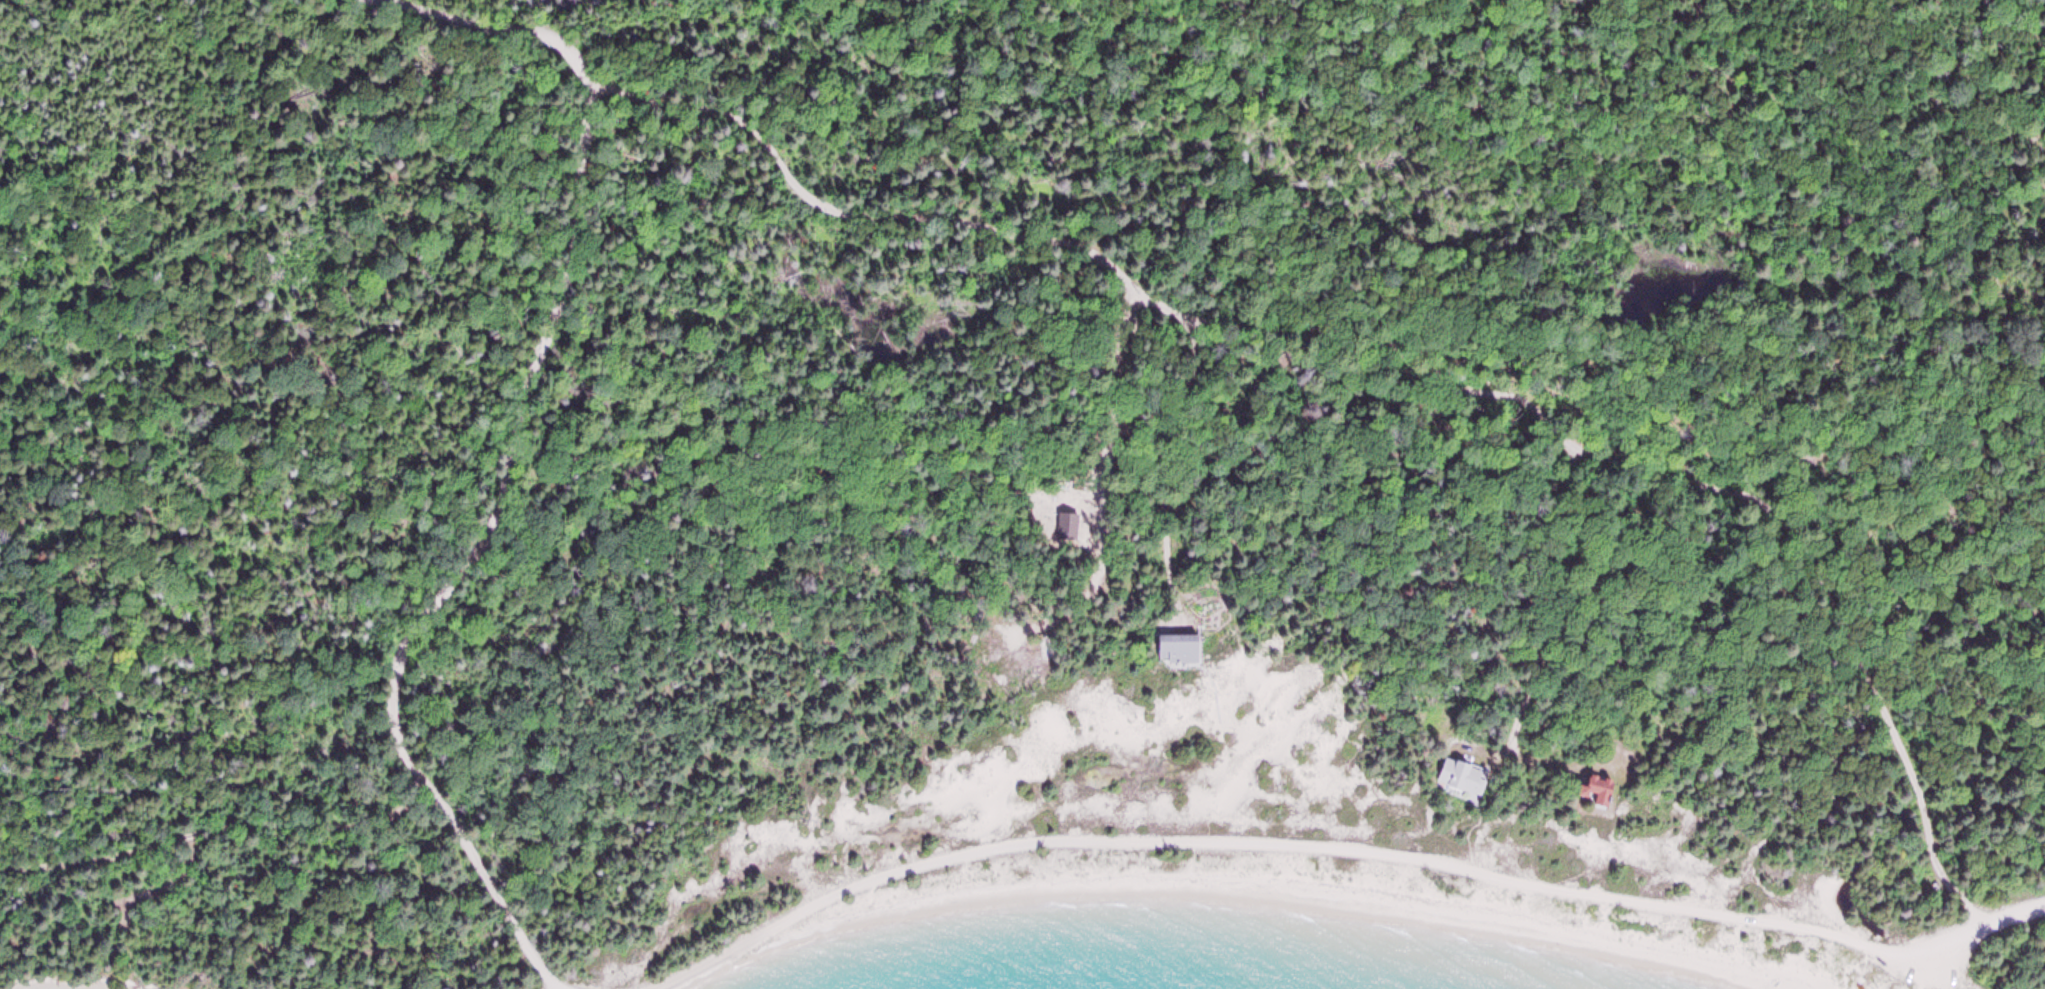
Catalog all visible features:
road: (1400, 365)
road: (516, 455)
building: (1179, 649)
building: (1600, 791)
road: (220, 833)
road: (1346, 856)

